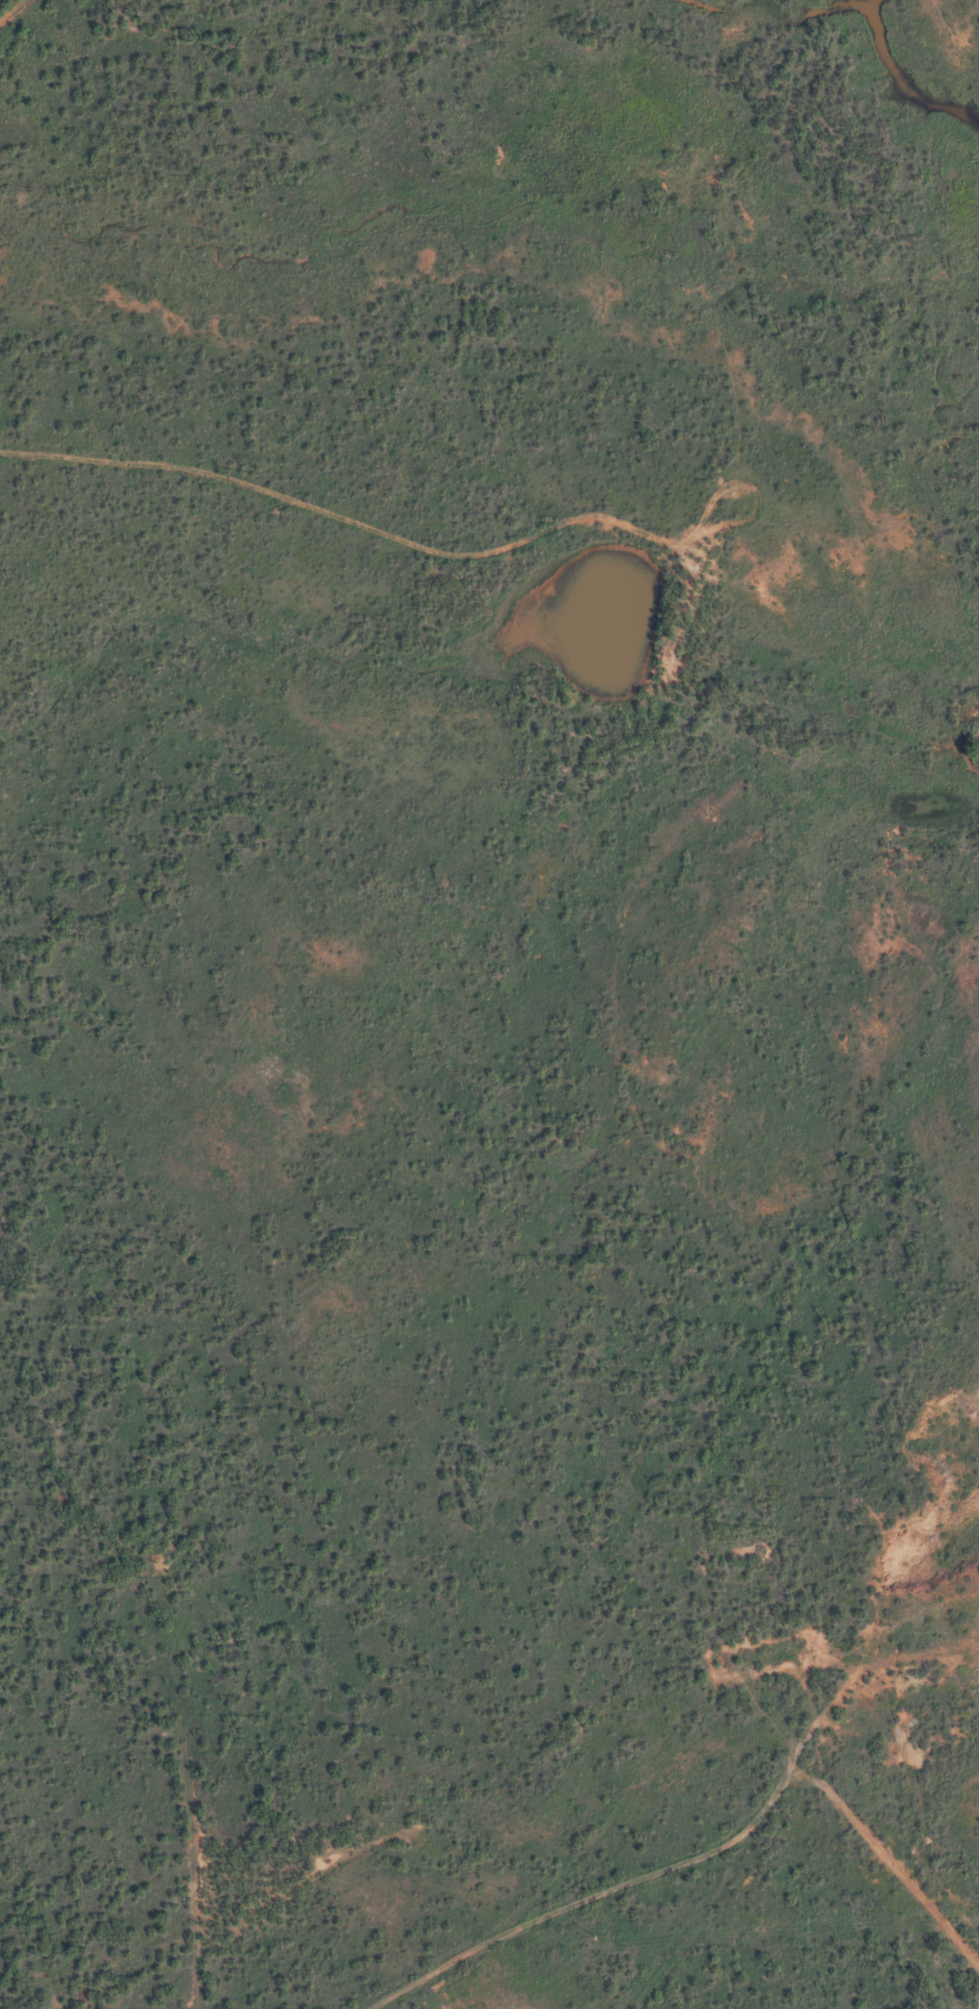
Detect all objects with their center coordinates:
road: (34, 24)
road: (237, 453)
road: (838, 1663)
road: (203, 1807)
road: (707, 1828)

